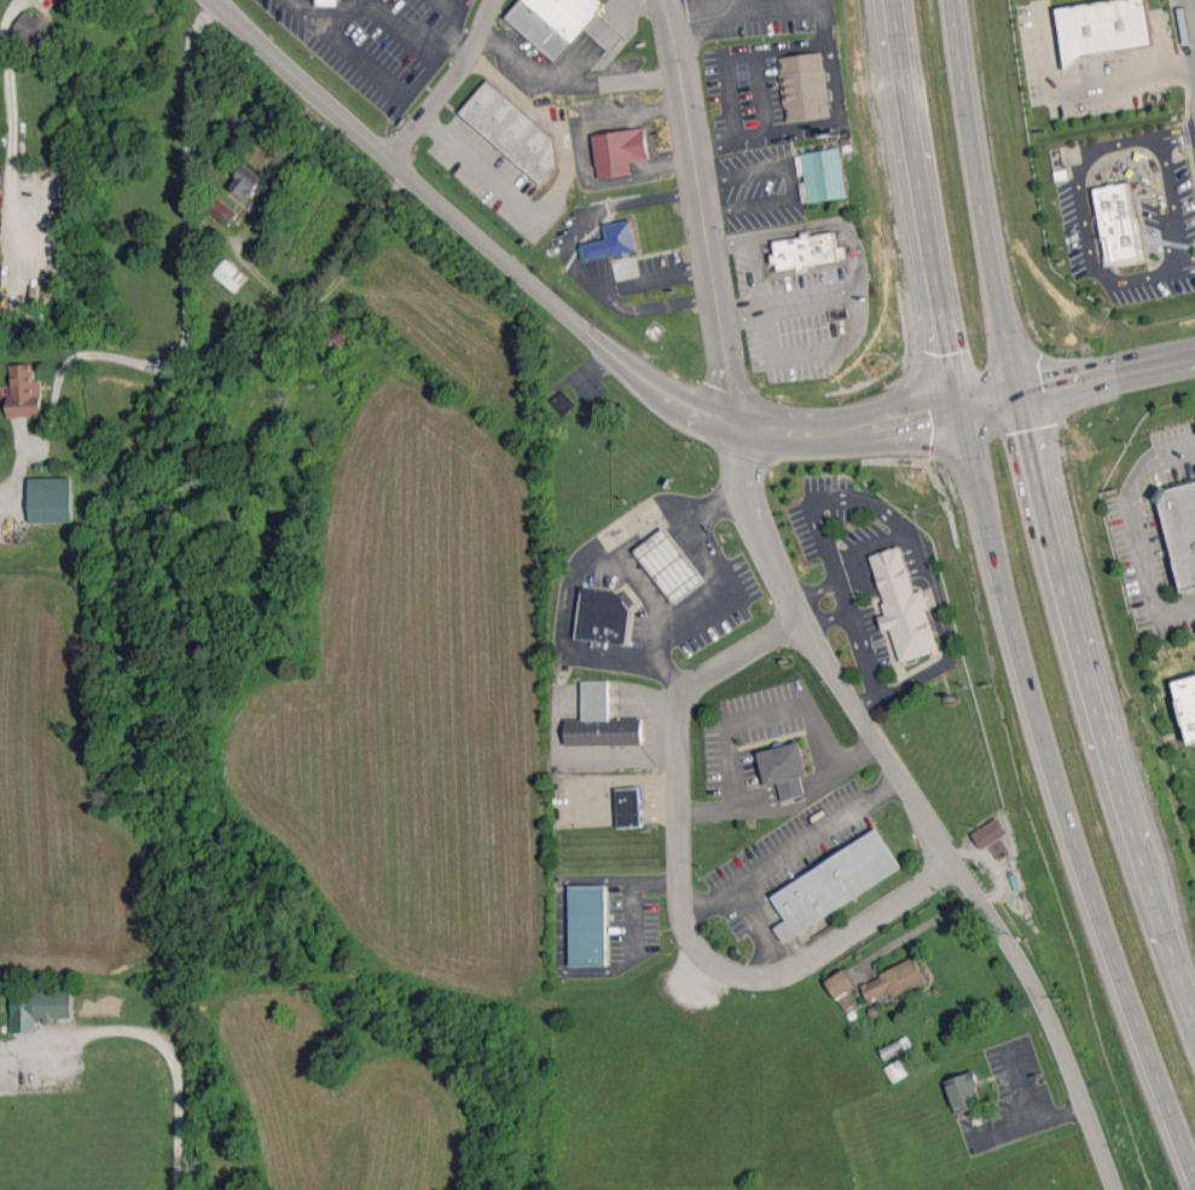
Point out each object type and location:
building: (327, 2)
road: (731, 4)
road: (656, 7)
road: (731, 8)
road: (621, 11)
road: (300, 12)
road: (338, 14)
building: (562, 23)
building: (1100, 25)
road: (1189, 28)
building: (39, 33)
road: (604, 33)
road: (407, 35)
road: (510, 51)
road: (576, 60)
parking lot: (1091, 64)
road: (1182, 68)
road: (636, 77)
road: (568, 80)
road: (445, 81)
road: (1068, 82)
building: (804, 87)
road: (545, 116)
road: (826, 124)
building: (512, 130)
road: (1176, 134)
road: (1141, 150)
road: (580, 151)
building: (619, 151)
road: (1091, 167)
road: (481, 168)
building: (822, 174)
road: (789, 180)
building: (248, 182)
road: (982, 193)
road: (1167, 199)
road: (697, 204)
building: (222, 211)
road: (1081, 219)
building: (1115, 222)
road: (814, 225)
building: (611, 242)
building: (805, 250)
road: (574, 259)
road: (1188, 265)
building: (230, 274)
road: (182, 277)
road: (652, 280)
road: (776, 303)
road: (570, 314)
road: (1107, 371)
building: (24, 391)
building: (563, 402)
building: (51, 499)
road: (719, 509)
building: (1179, 528)
road: (1133, 529)
road: (819, 546)
road: (702, 548)
road: (587, 562)
building: (669, 565)
road: (813, 588)
road: (1005, 596)
building: (904, 605)
building: (603, 615)
road: (826, 619)
road: (681, 626)
road: (944, 645)
road: (607, 663)
road: (666, 664)
road: (1096, 697)
building: (1187, 703)
road: (754, 716)
building: (601, 720)
building: (785, 768)
road: (917, 803)
building: (630, 807)
building: (990, 832)
road: (789, 847)
building: (999, 848)
road: (654, 877)
building: (834, 883)
road: (675, 895)
building: (587, 924)
road: (562, 962)
building: (894, 980)
building: (840, 982)
building: (847, 1000)
building: (39, 1008)
road: (182, 1068)
building: (964, 1091)

